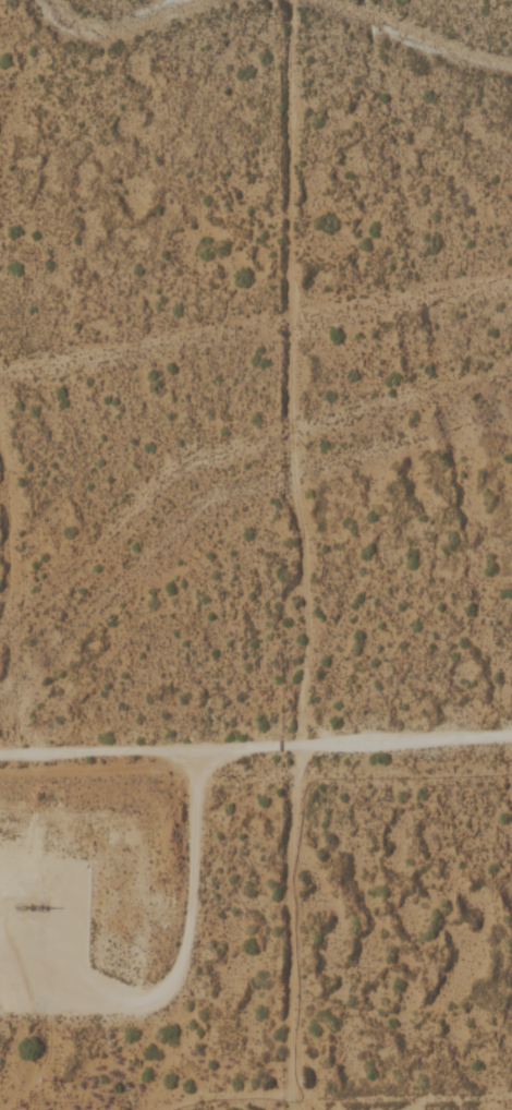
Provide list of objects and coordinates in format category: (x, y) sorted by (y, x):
road: (256, 746)
road: (175, 961)

